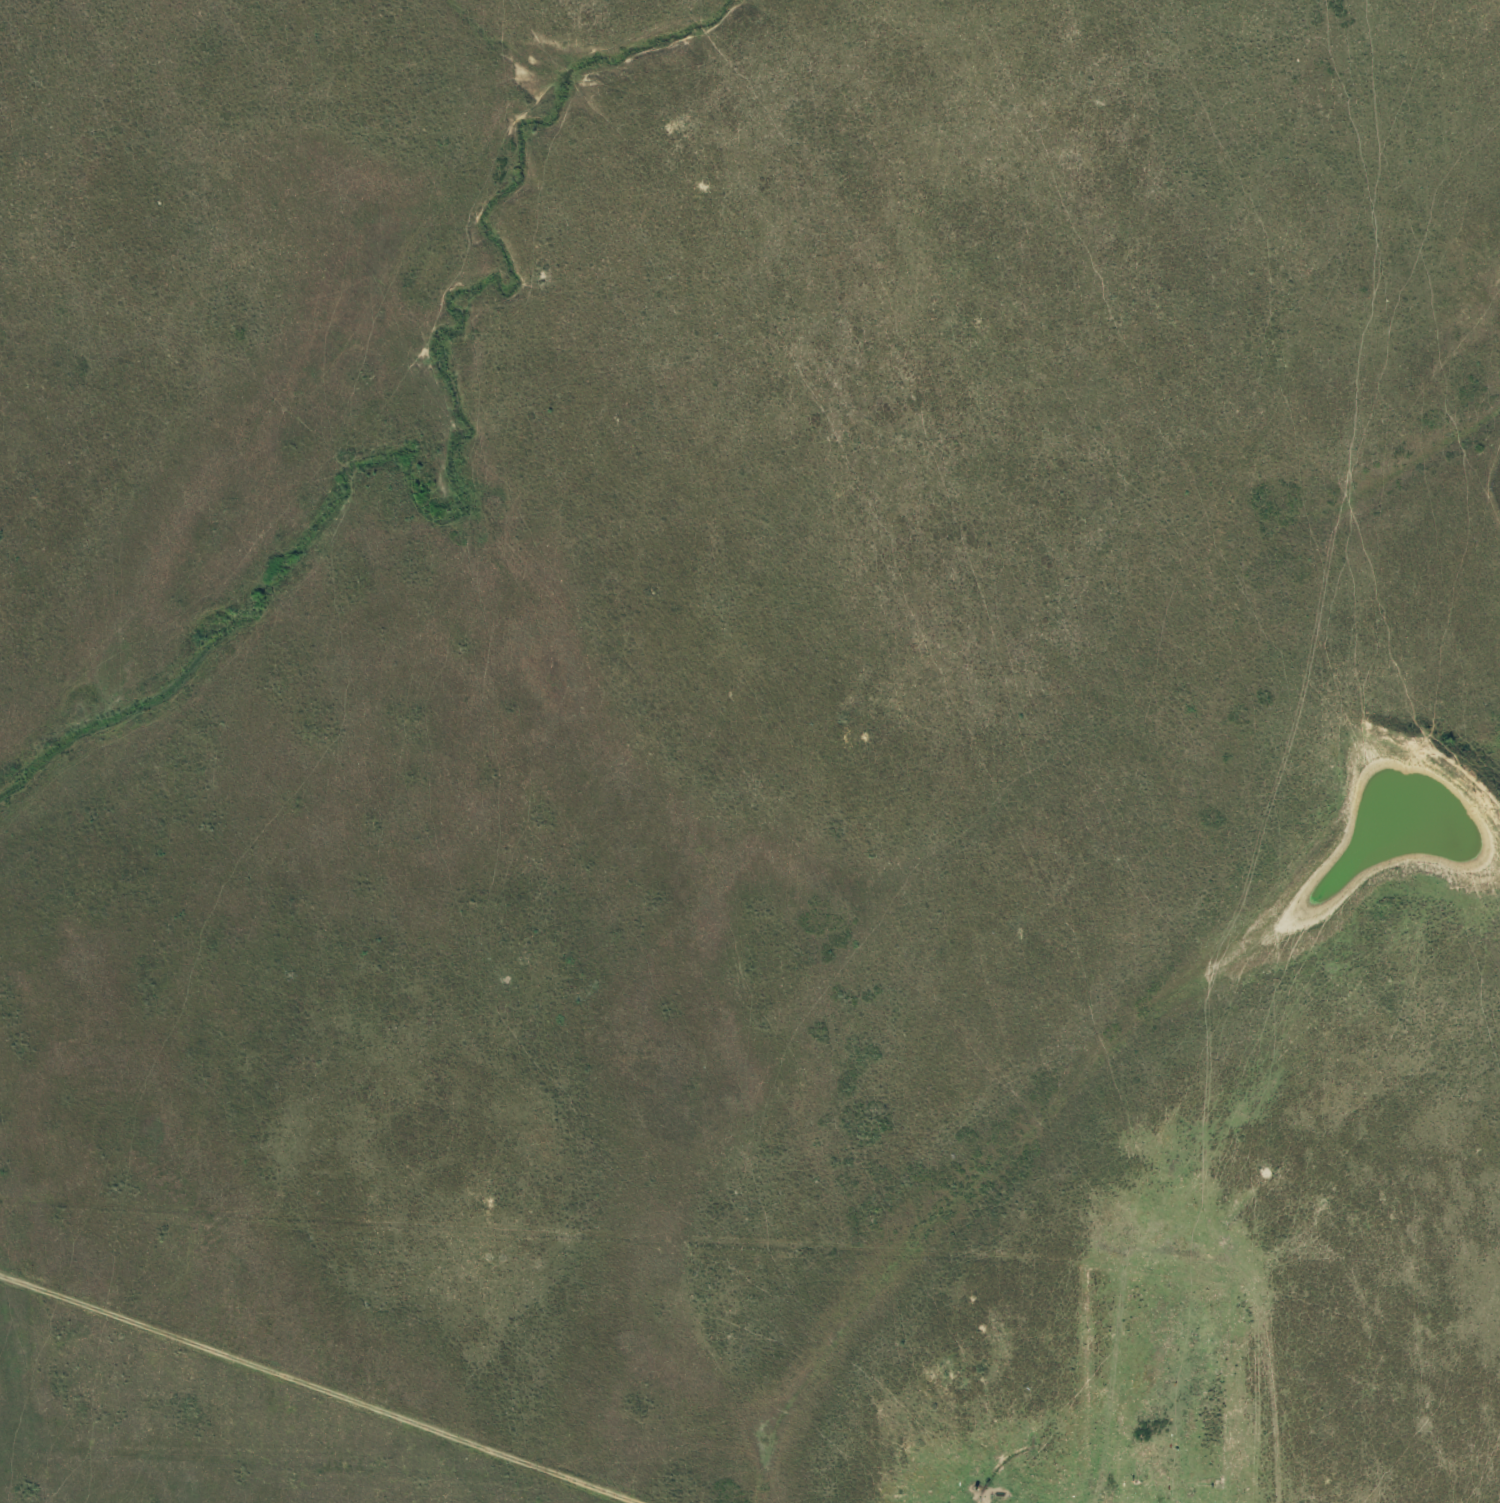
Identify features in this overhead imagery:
road: (320, 1390)

